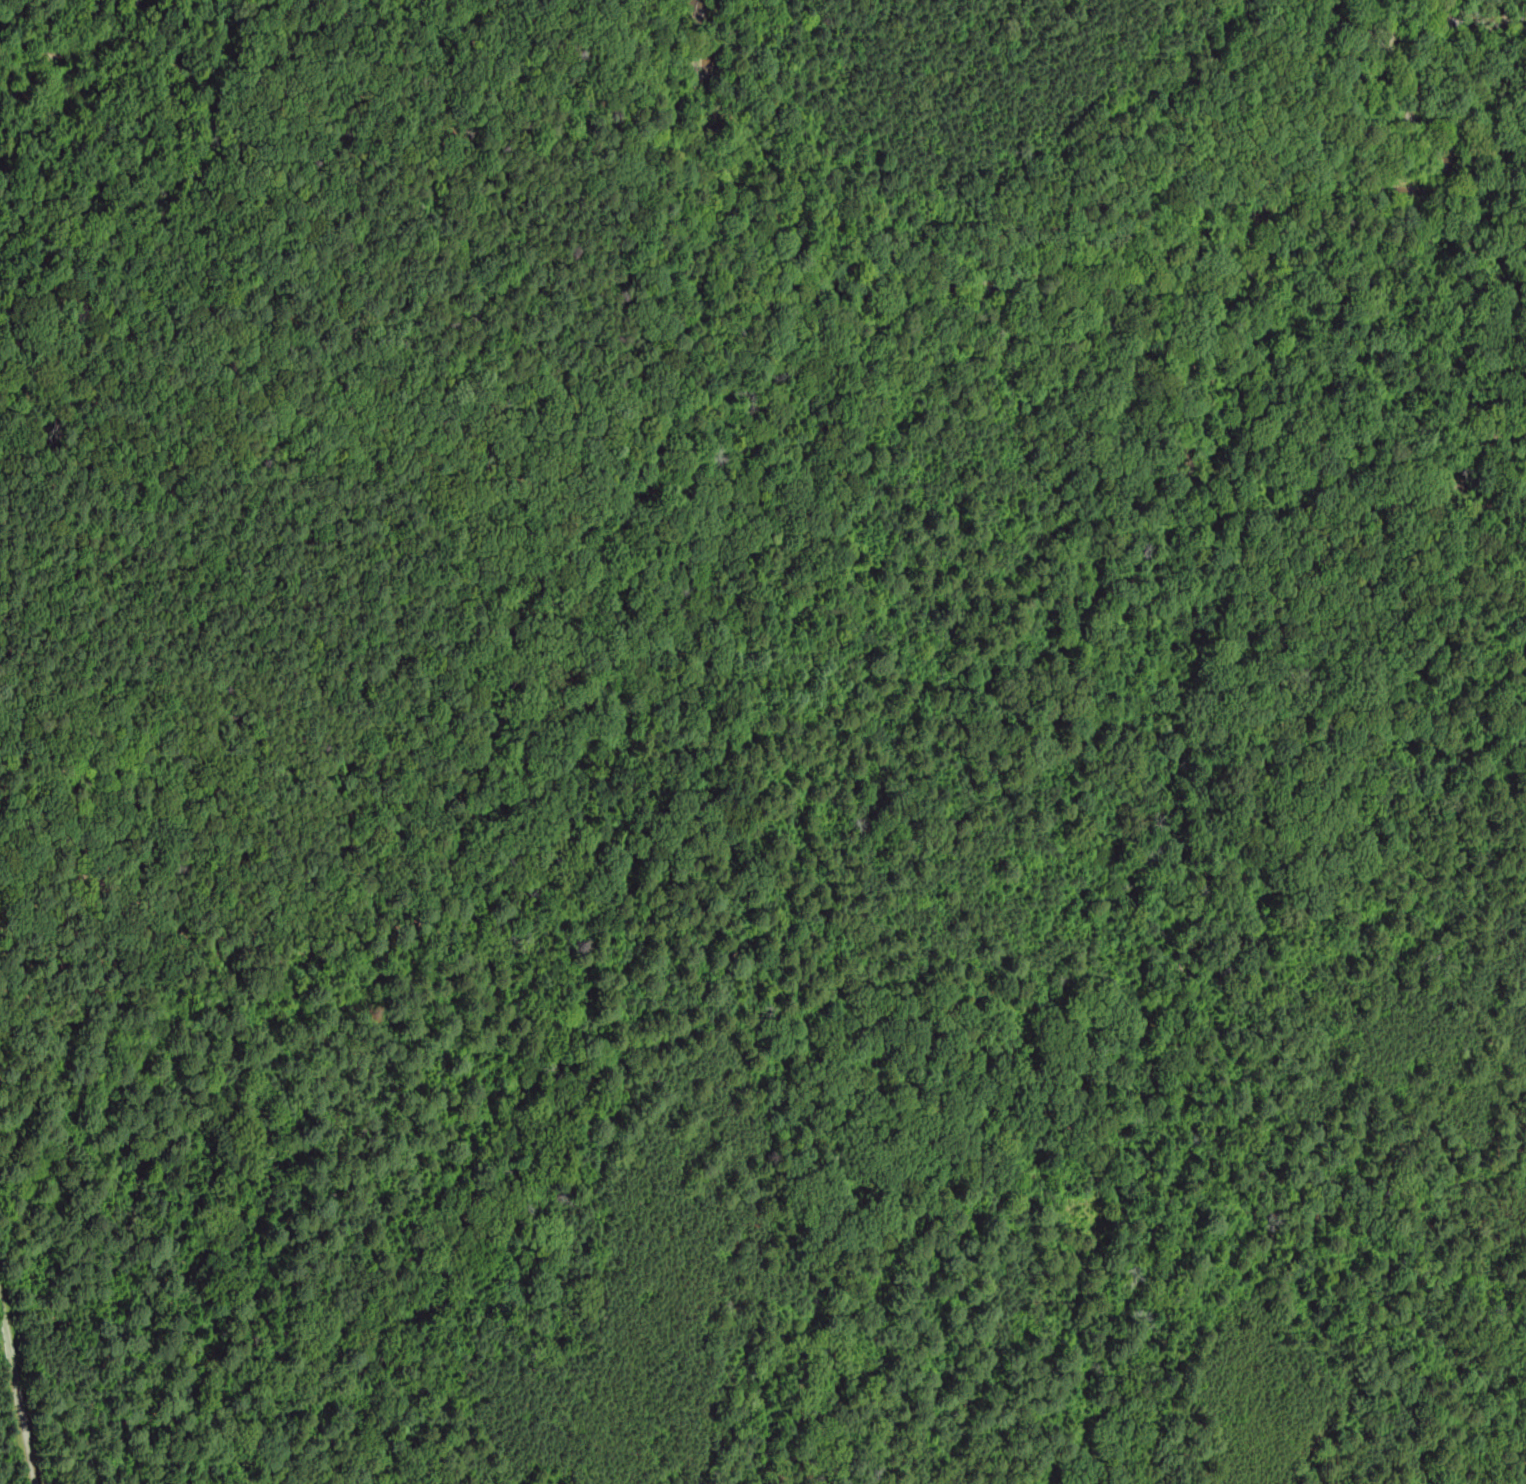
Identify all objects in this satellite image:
road: (19, 1390)

